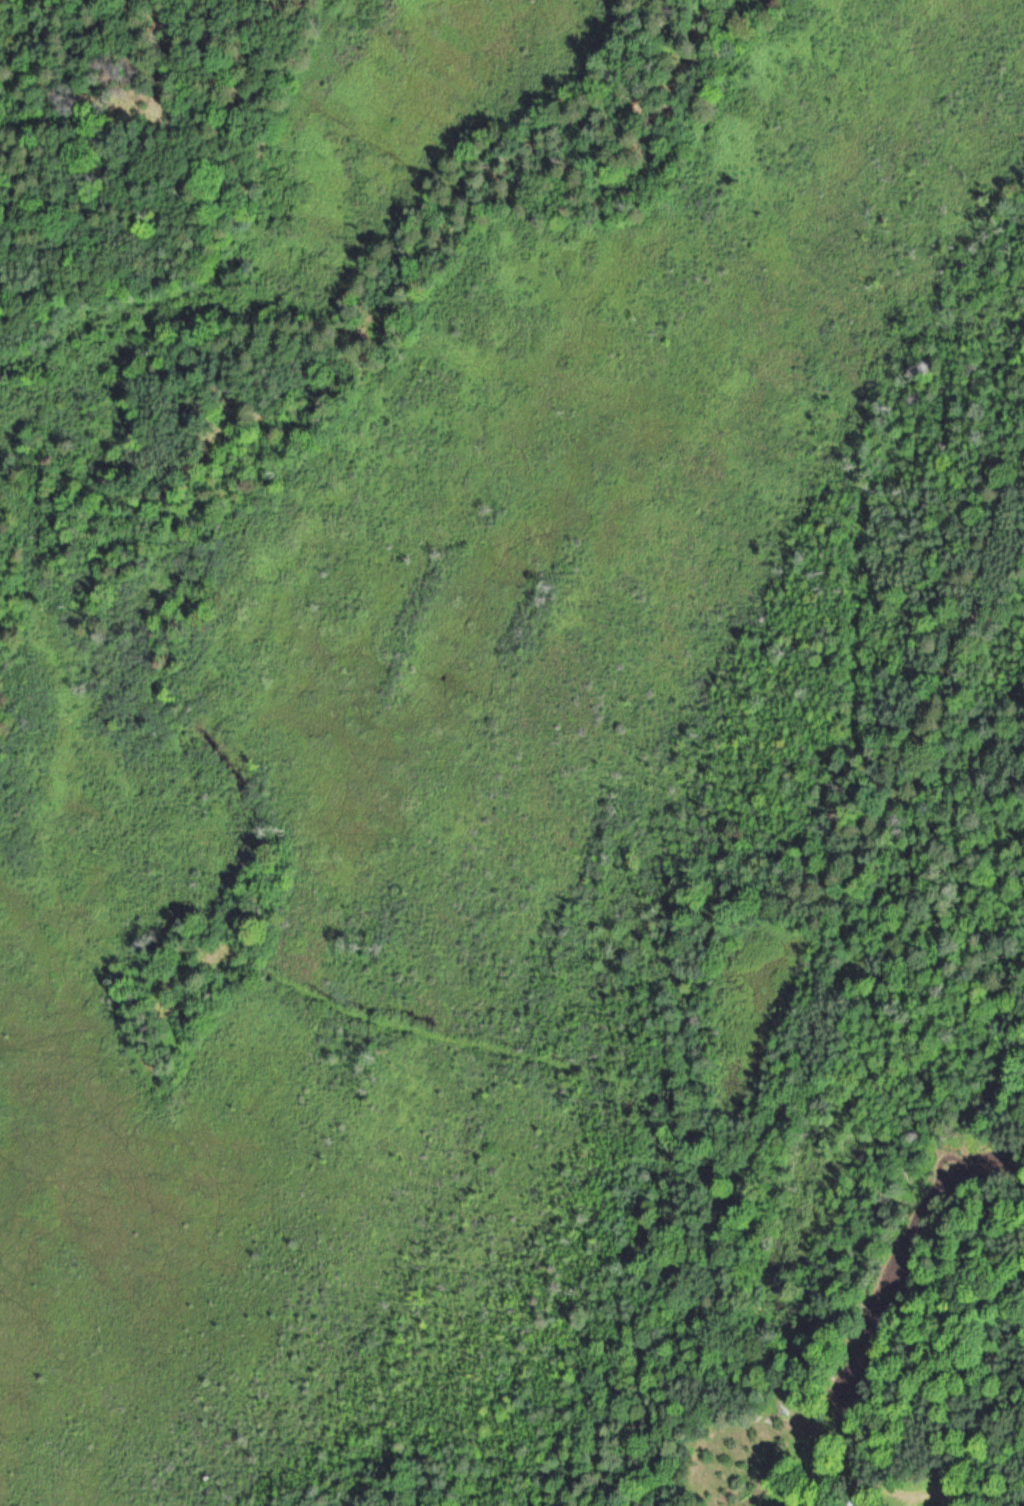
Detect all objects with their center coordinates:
road: (964, 1472)

